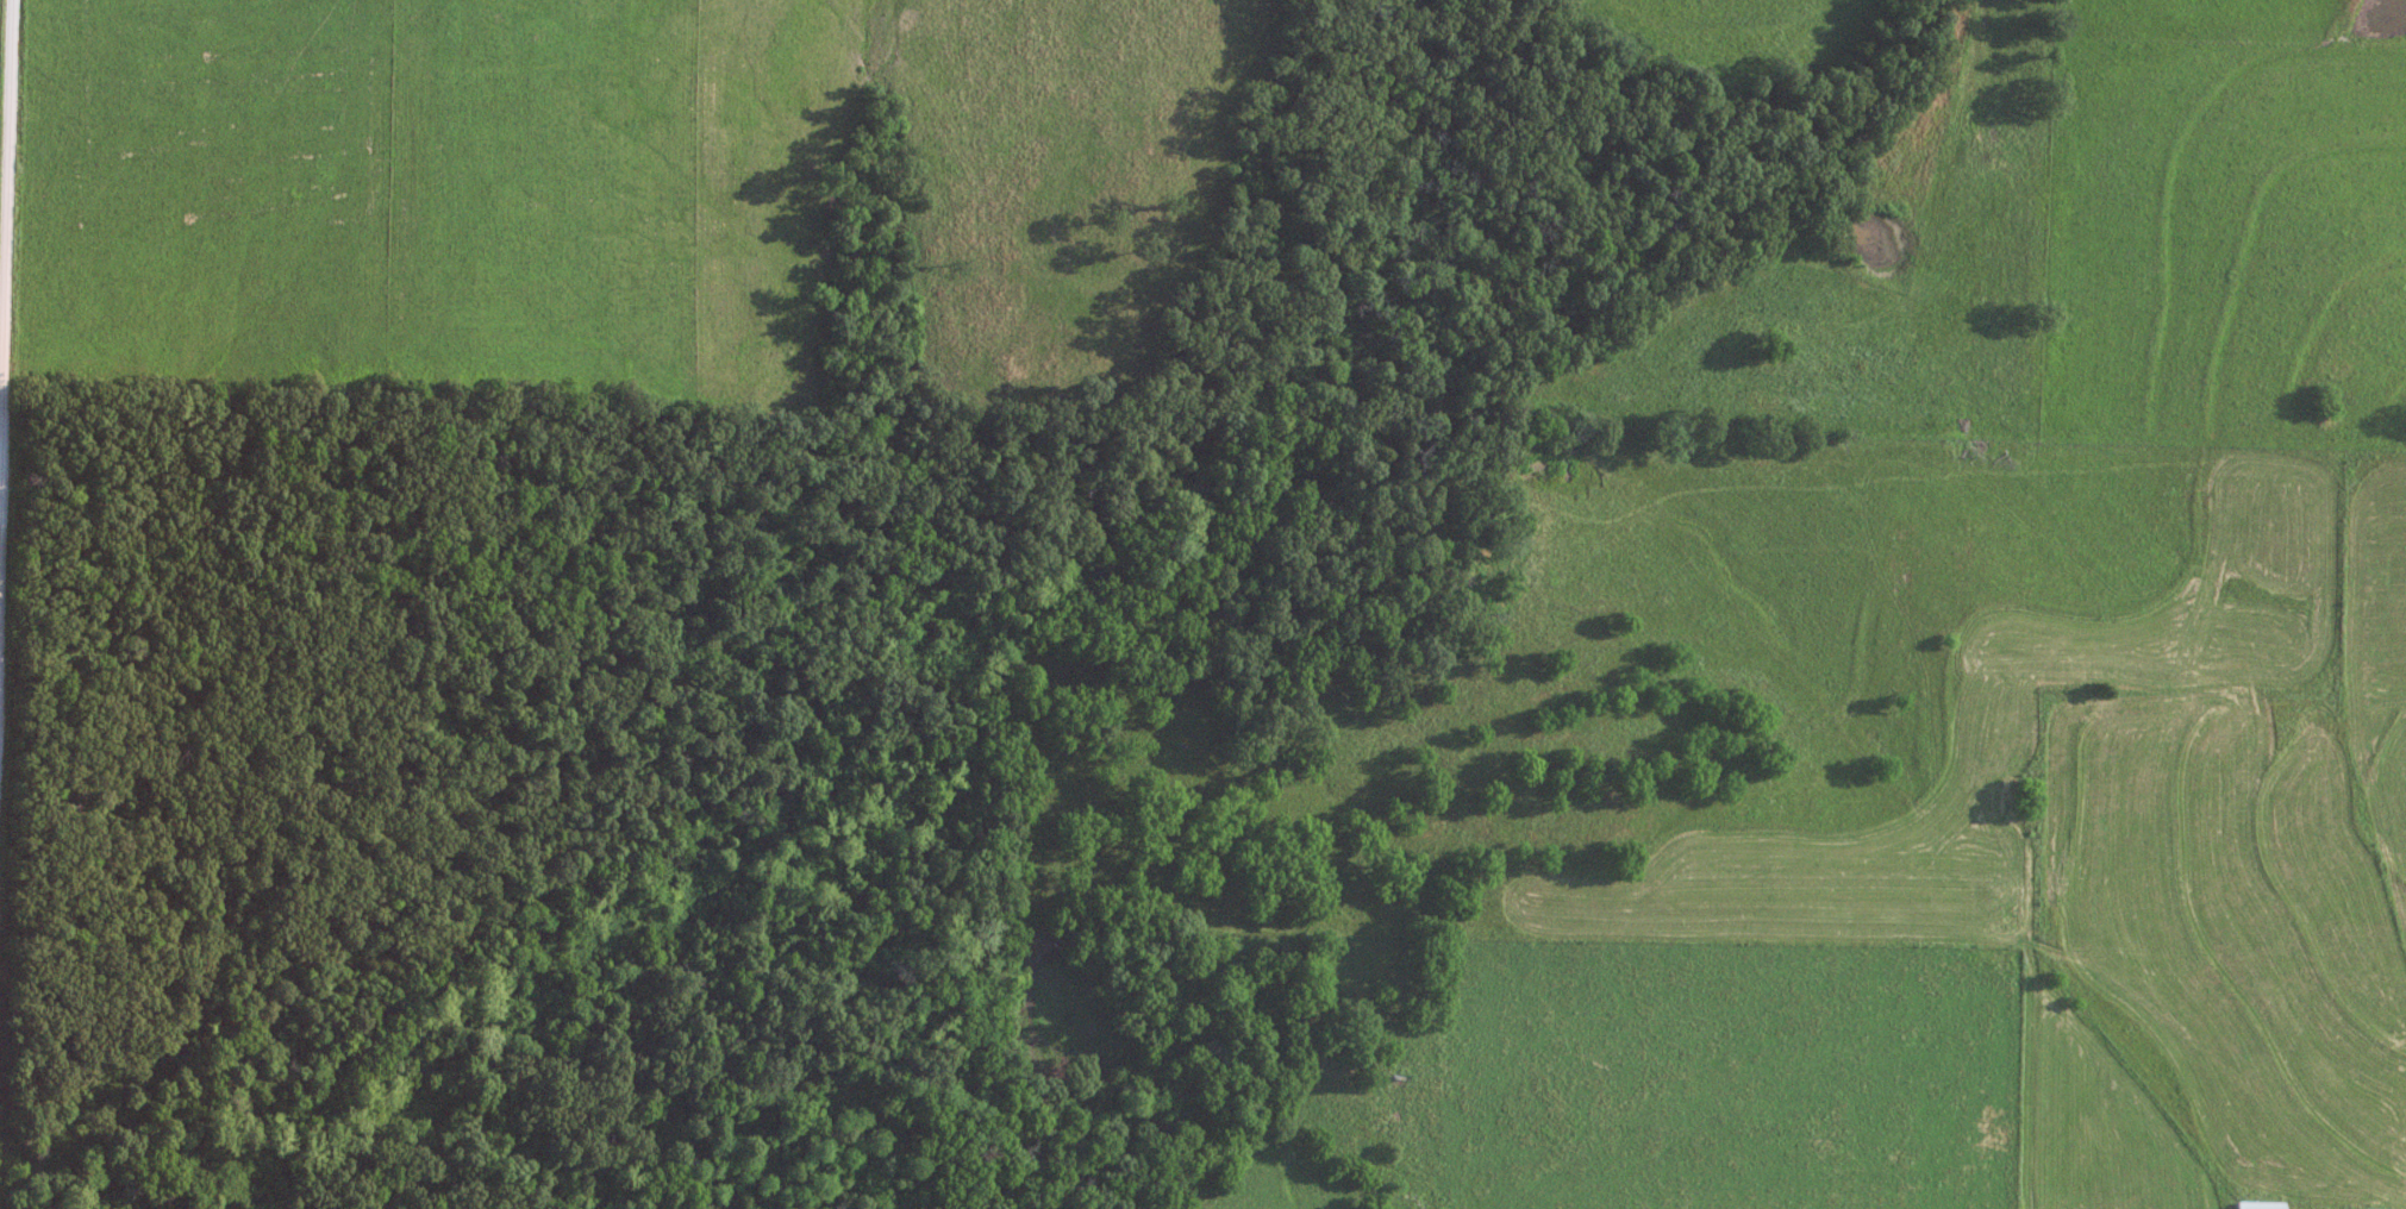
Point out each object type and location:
road: (6, 391)
building: (2257, 1205)

